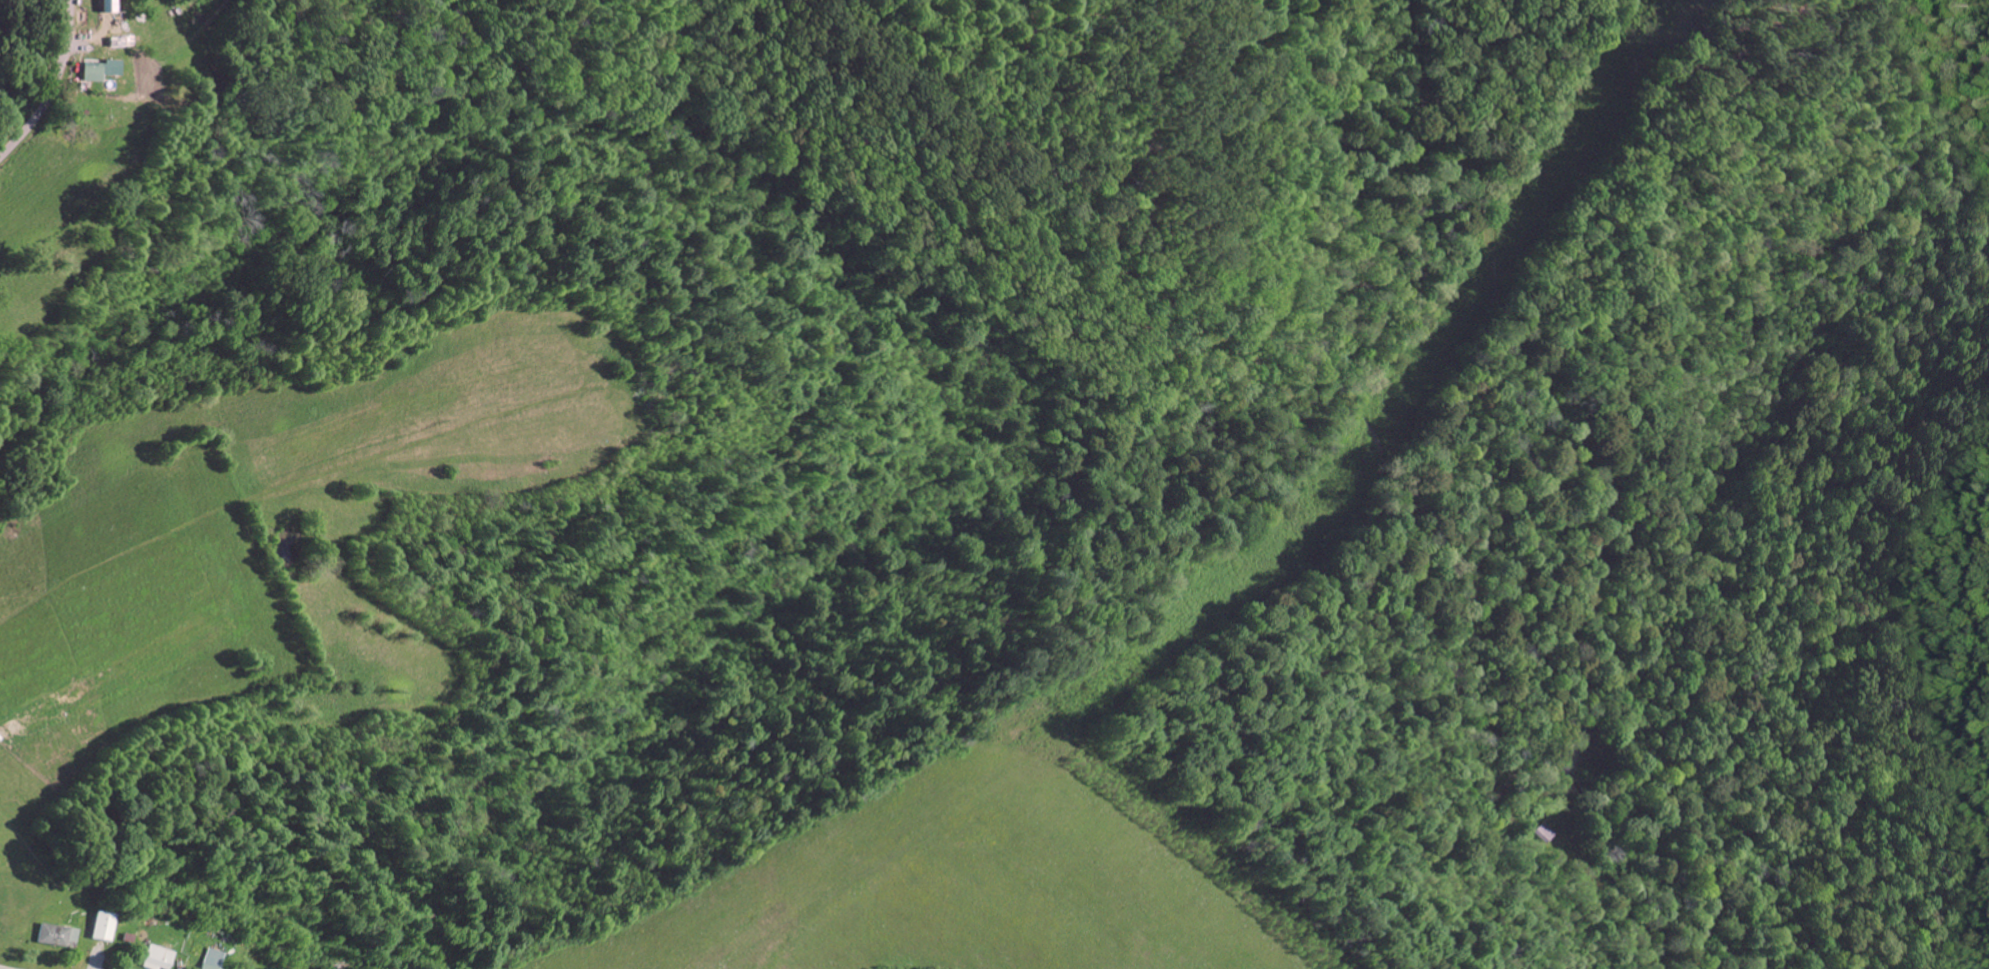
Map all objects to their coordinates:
building: (95, 71)
road: (51, 86)
building: (50, 936)
building: (152, 958)
building: (207, 959)
road: (2, 968)

